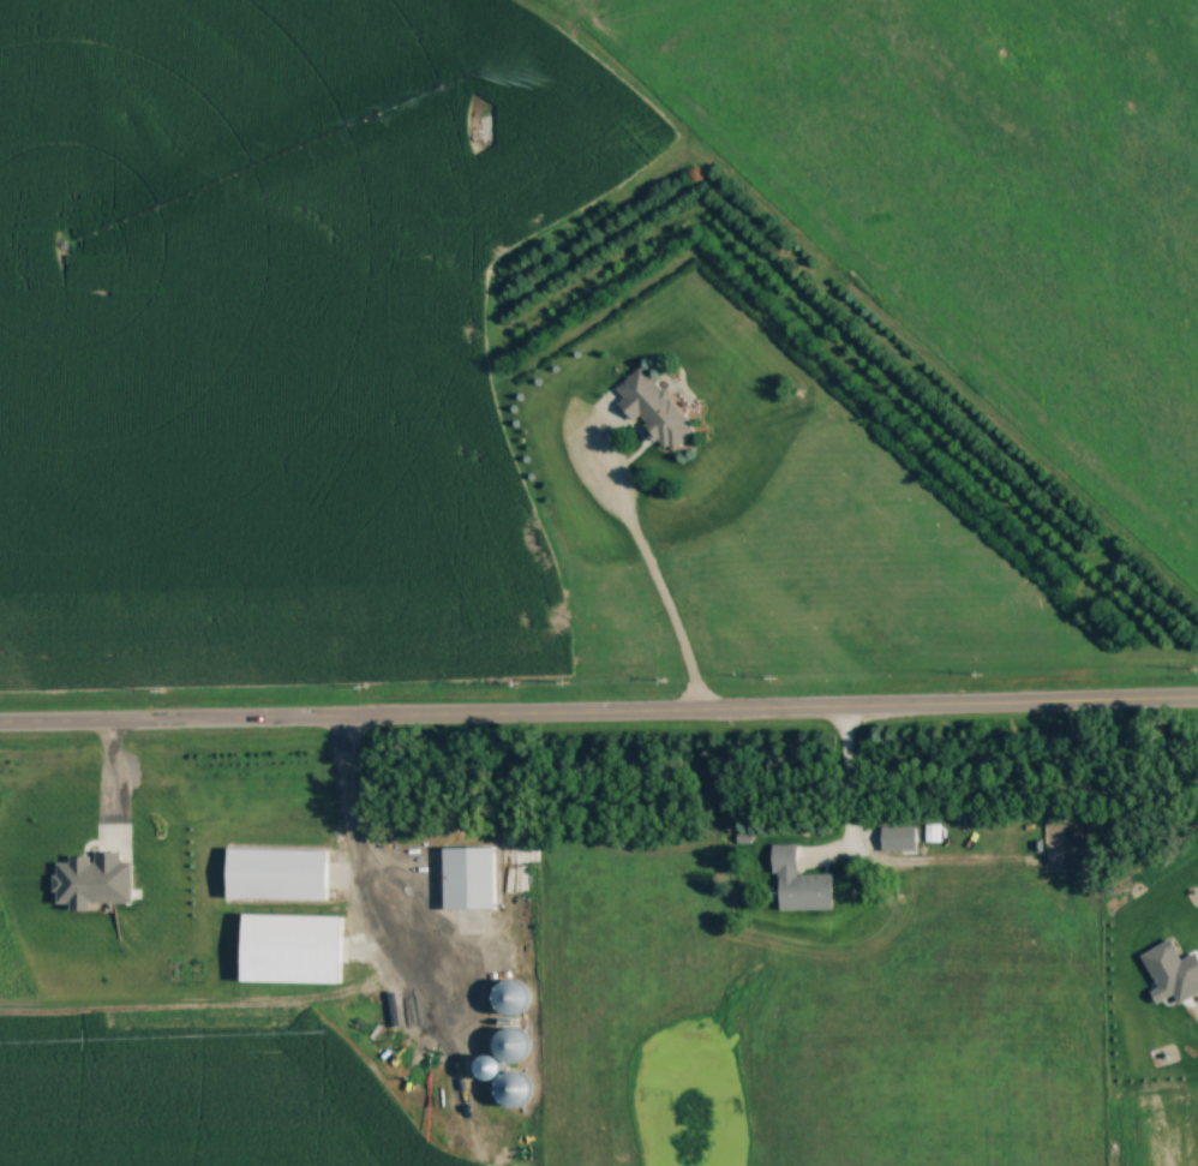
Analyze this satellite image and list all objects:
building: (655, 408)
road: (652, 580)
road: (598, 711)
road: (846, 807)
building: (933, 832)
building: (899, 837)
road: (357, 859)
building: (277, 873)
building: (469, 877)
building: (801, 883)
building: (510, 997)
building: (510, 1044)
building: (490, 1066)
building: (513, 1092)

